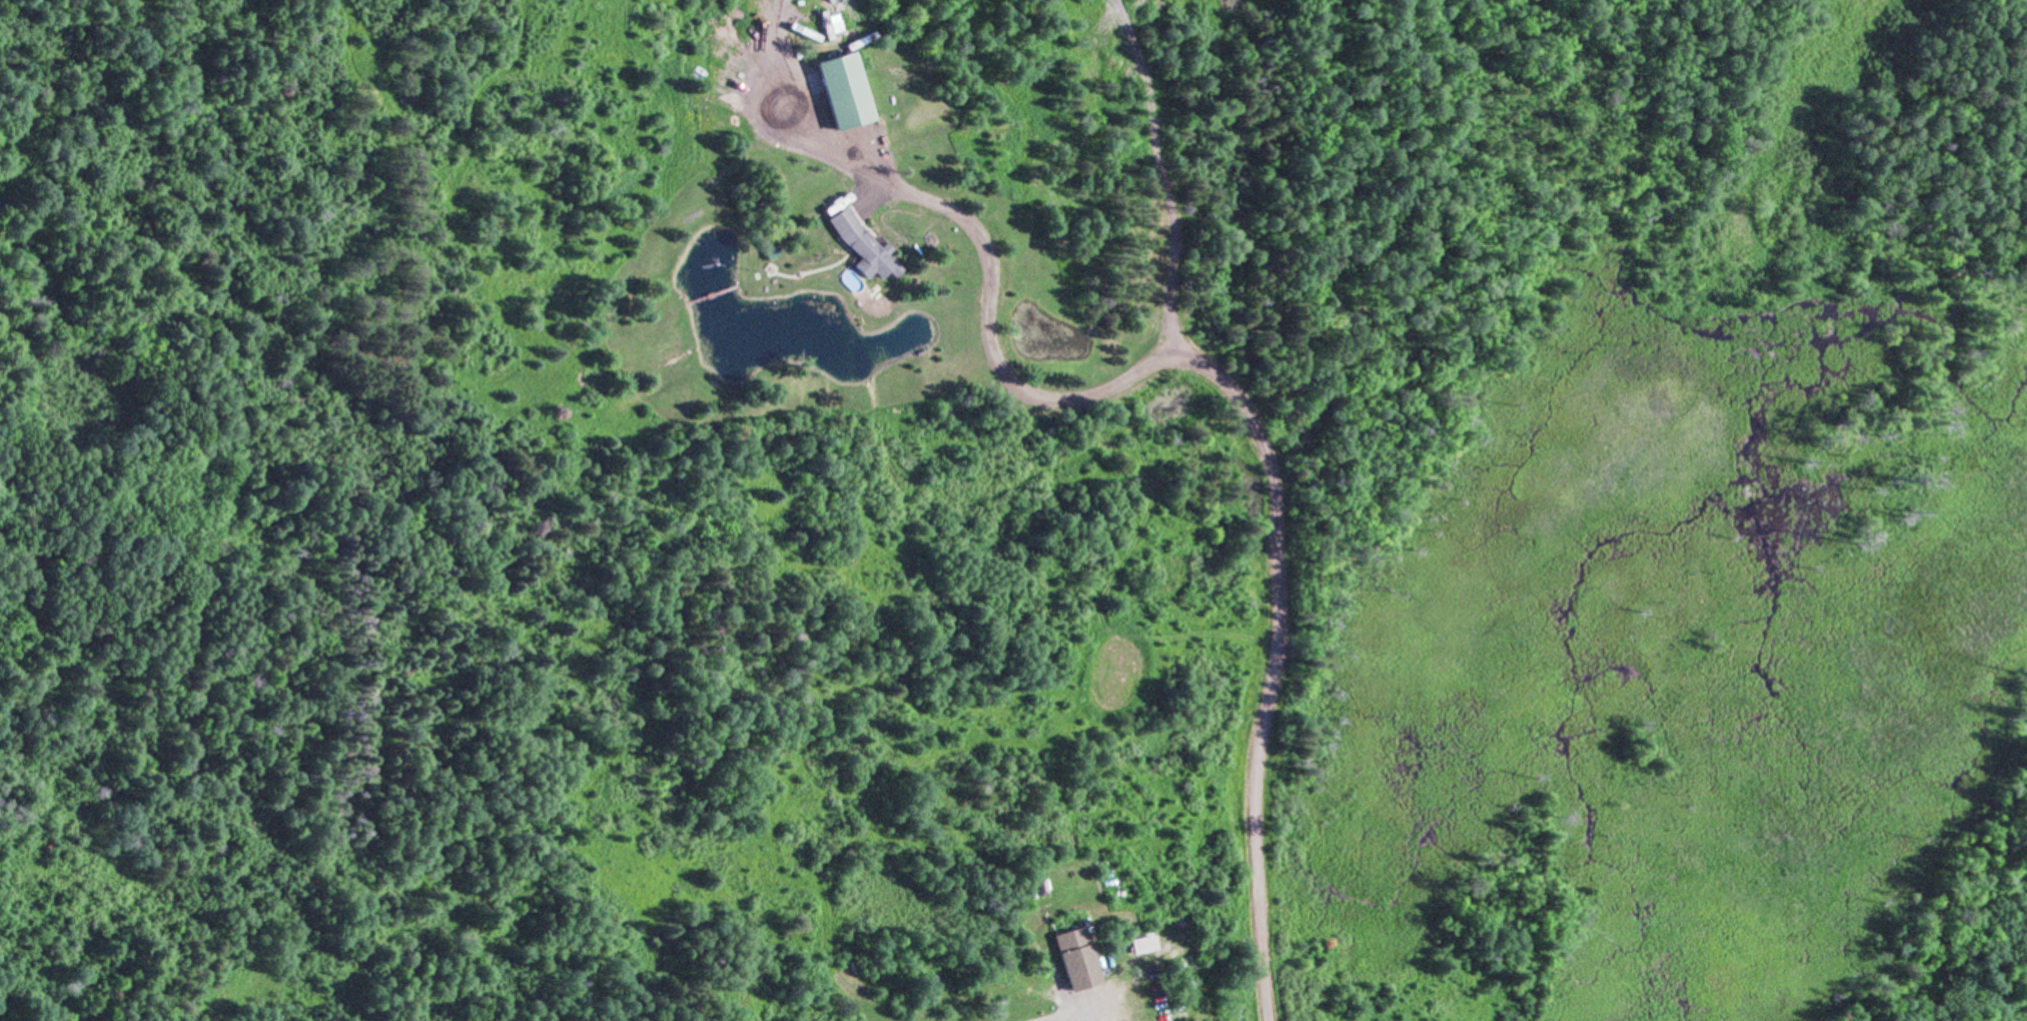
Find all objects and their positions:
building: (845, 89)
building: (862, 242)
building: (1077, 958)

